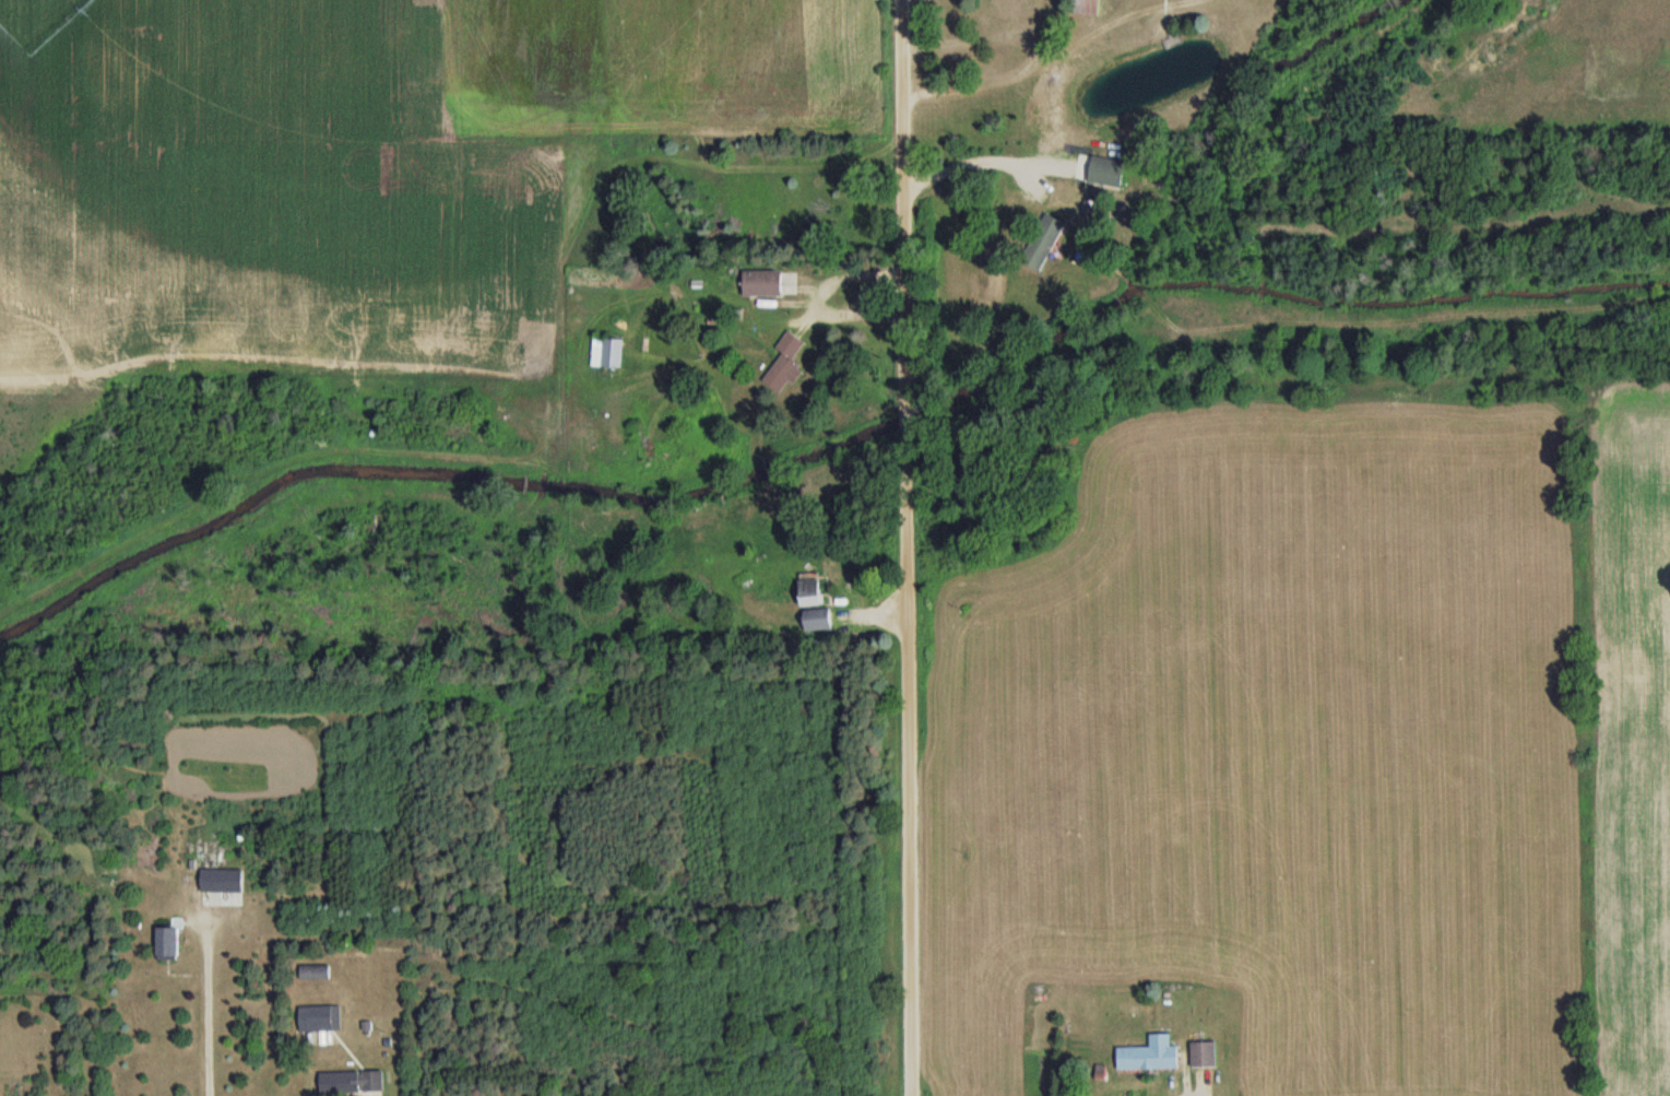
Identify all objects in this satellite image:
building: (1085, 8)
building: (1103, 172)
road: (904, 204)
building: (1044, 243)
building: (765, 283)
building: (608, 354)
building: (786, 365)
road: (907, 415)
building: (813, 593)
building: (819, 621)
road: (909, 758)
building: (224, 881)
building: (169, 944)
building: (316, 973)
road: (204, 1002)
building: (317, 1020)
building: (1205, 1056)
building: (1149, 1059)
building: (353, 1083)

